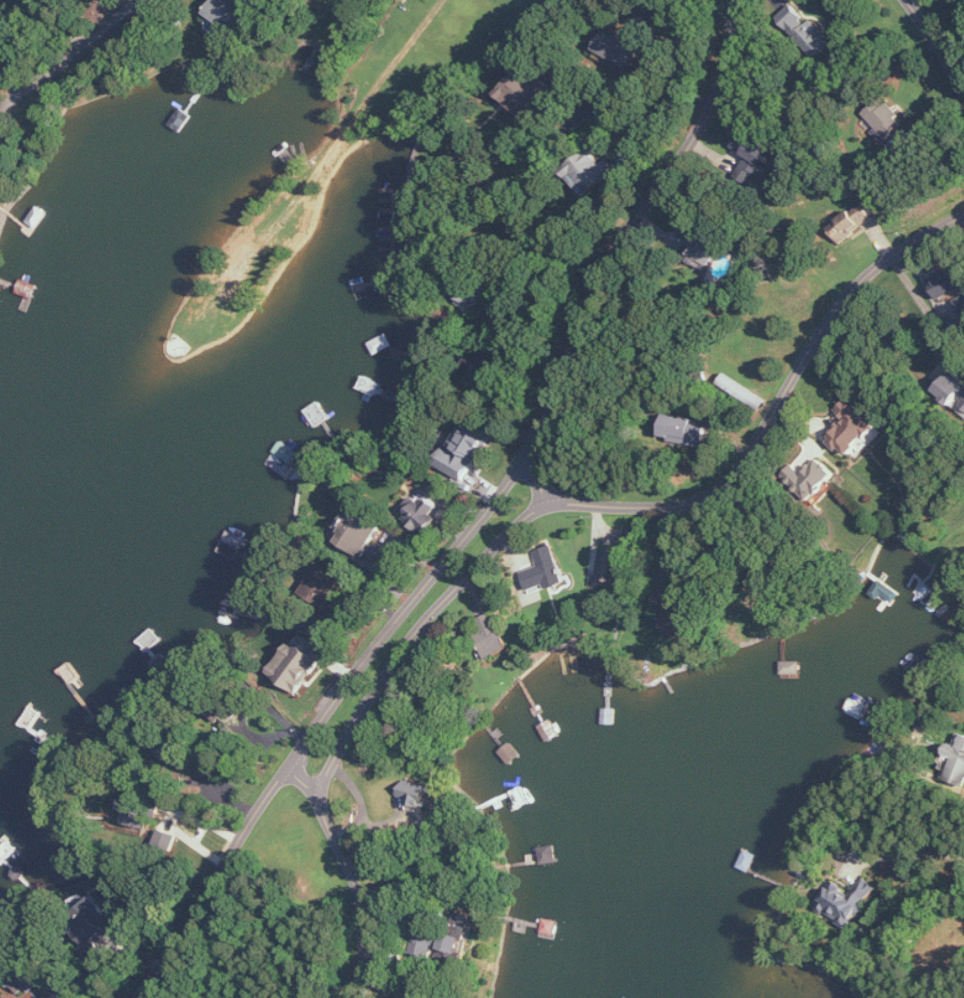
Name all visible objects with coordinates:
building: (233, 14)
road: (430, 18)
building: (806, 31)
road: (697, 37)
road: (934, 42)
building: (623, 47)
road: (67, 53)
building: (524, 93)
road: (615, 117)
building: (884, 118)
building: (746, 157)
building: (591, 171)
building: (853, 223)
building: (699, 244)
road: (512, 281)
building: (950, 284)
building: (487, 362)
building: (953, 391)
road: (546, 405)
road: (771, 414)
building: (853, 428)
building: (687, 431)
building: (465, 450)
building: (812, 478)
building: (360, 533)
road: (668, 550)
building: (614, 564)
building: (546, 571)
building: (323, 586)
building: (679, 619)
building: (492, 636)
building: (298, 664)
building: (955, 763)
building: (415, 793)
building: (139, 806)
road: (907, 852)
road: (354, 881)
road: (215, 884)
building: (848, 901)
building: (94, 929)
building: (463, 933)
building: (397, 997)

